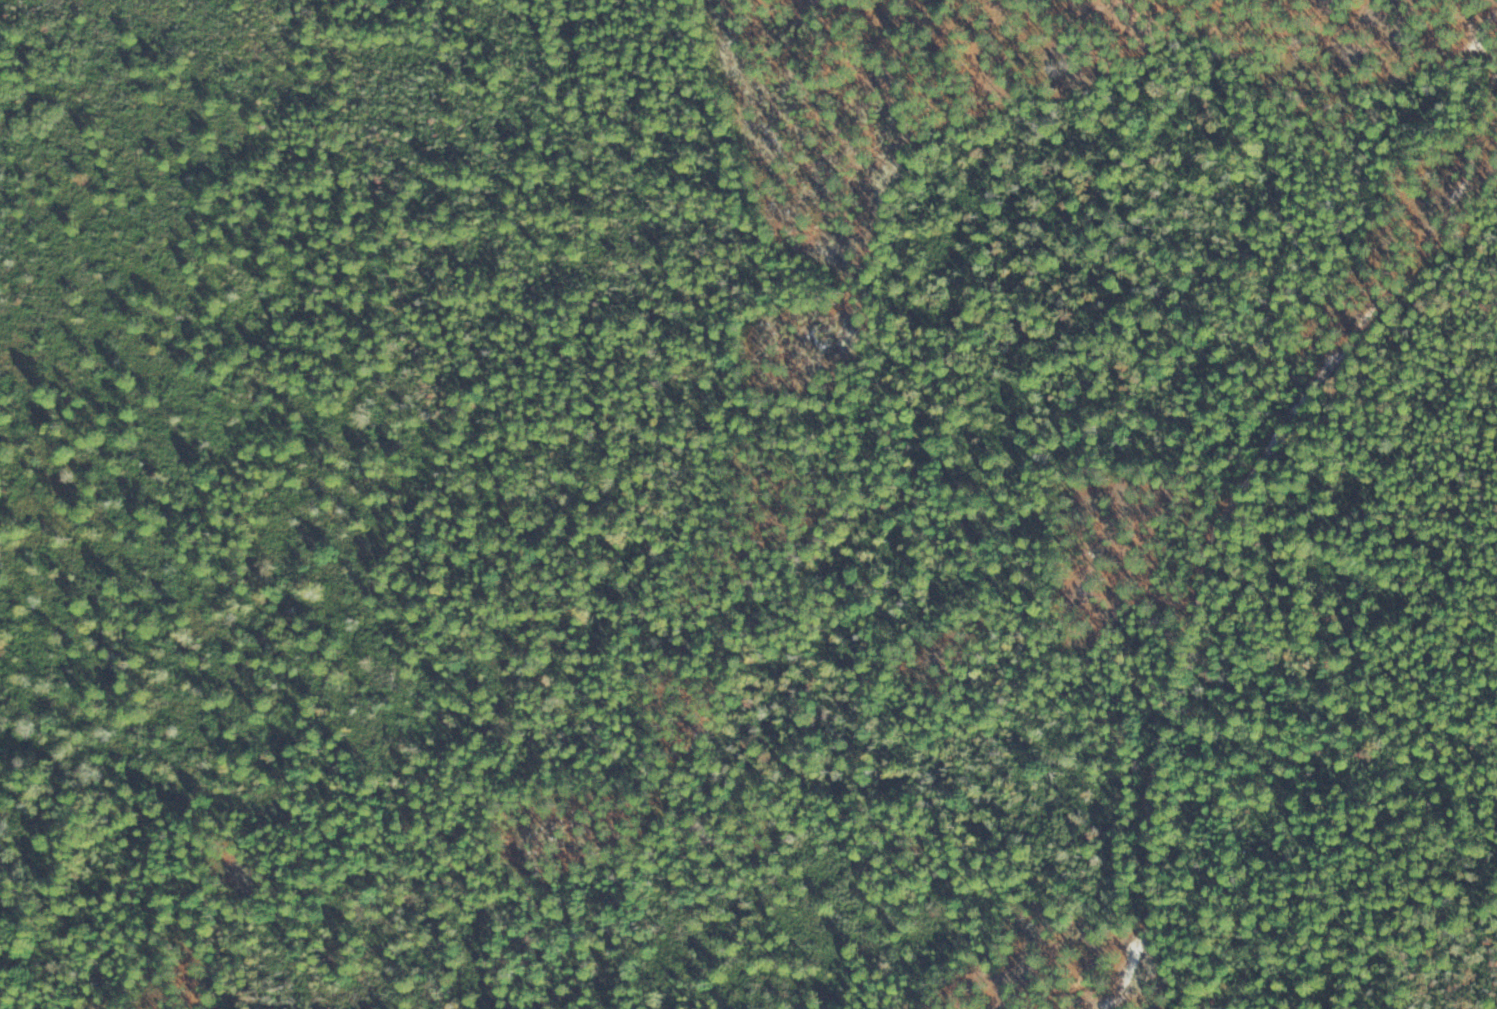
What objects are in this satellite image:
road: (1218, 37)
road: (1187, 502)

